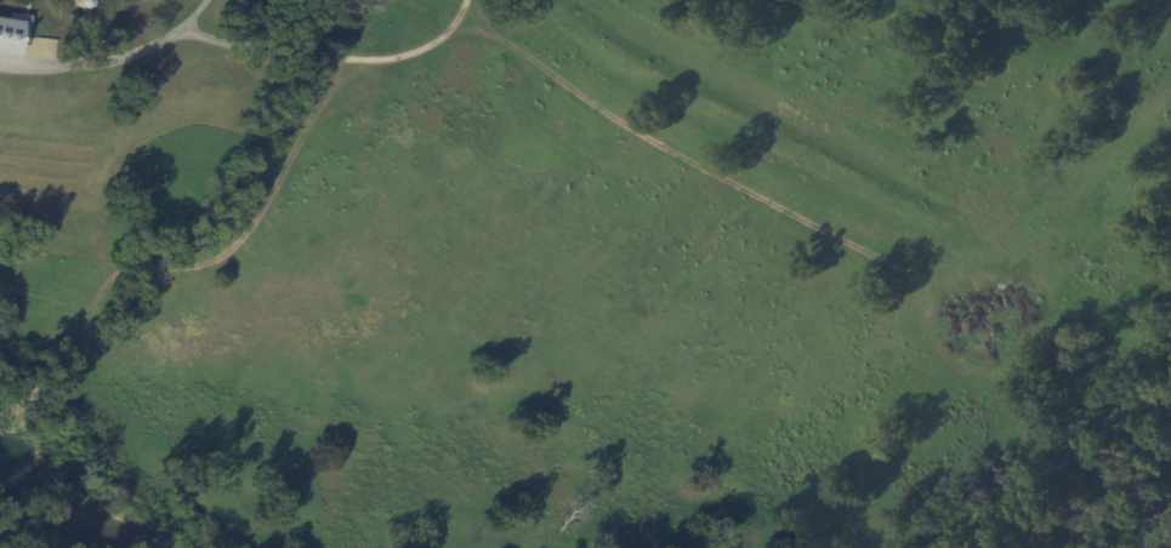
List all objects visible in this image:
building: (80, 4)
building: (12, 33)
road: (257, 46)
road: (413, 51)
road: (114, 59)
river: (69, 504)

